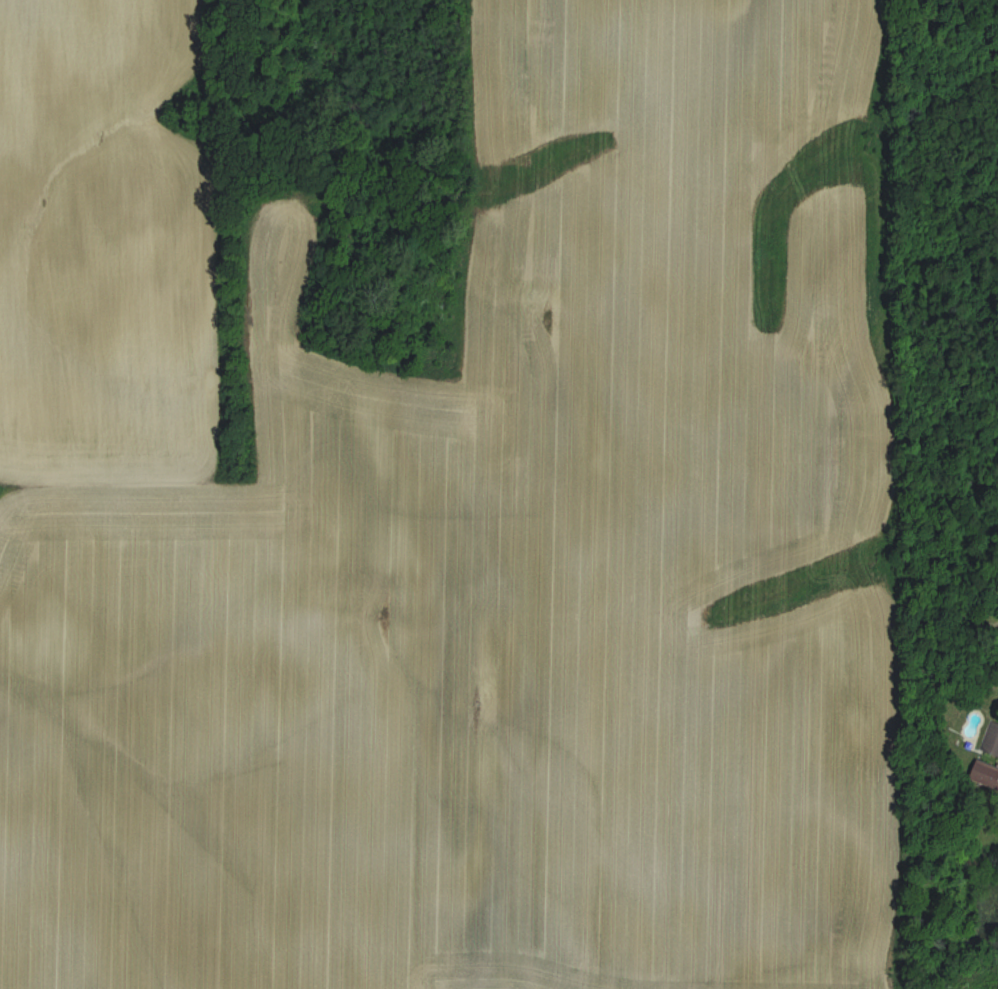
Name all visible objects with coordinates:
building: (992, 741)
building: (986, 775)

